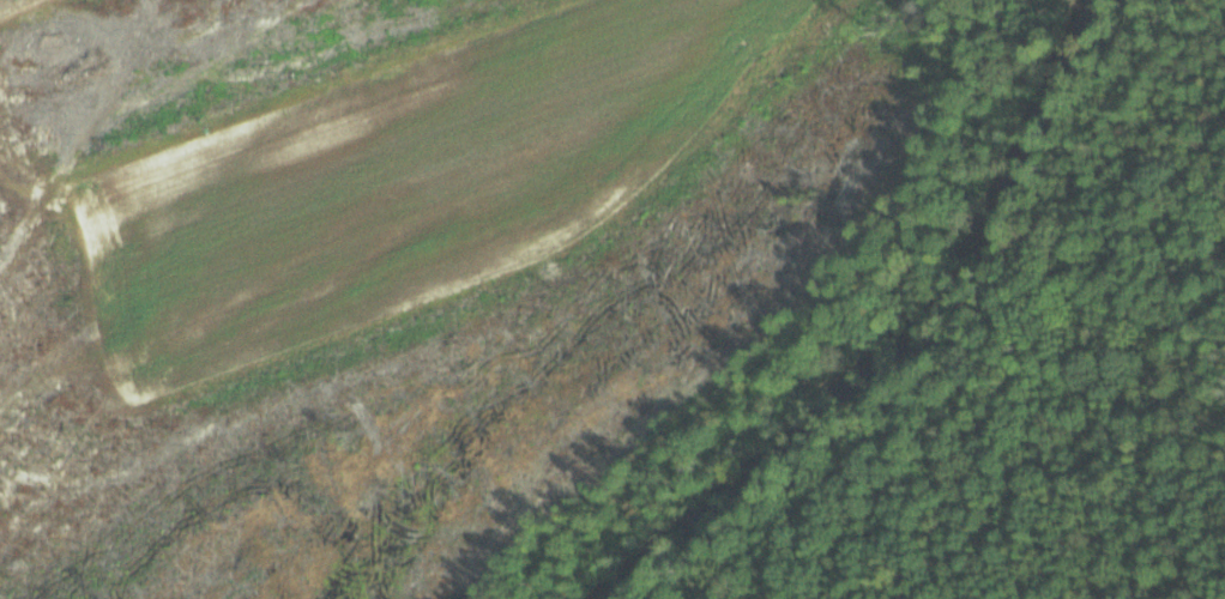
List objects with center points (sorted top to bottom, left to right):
river: (935, 335)

